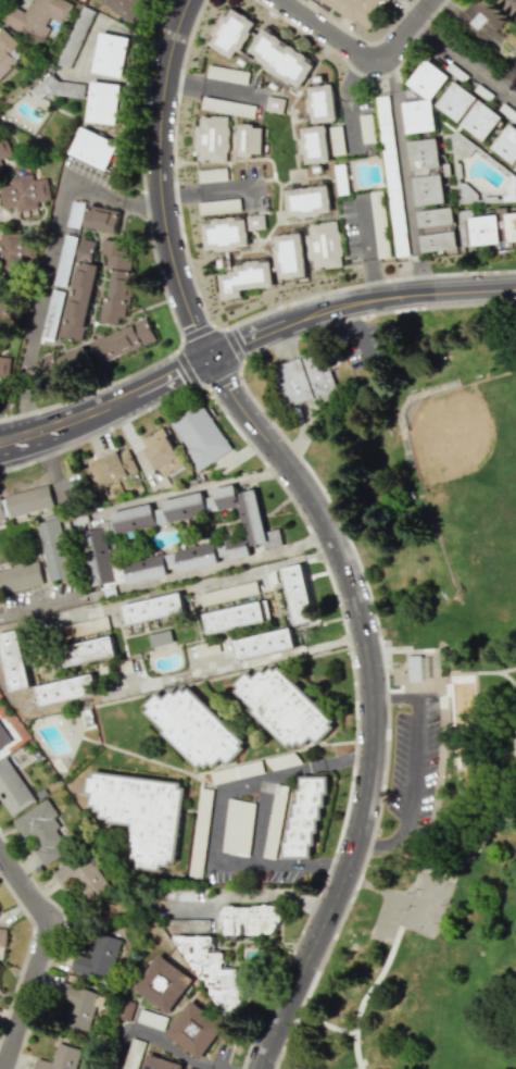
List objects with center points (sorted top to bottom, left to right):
building: (124, 7)
building: (508, 7)
building: (358, 10)
building: (38, 16)
building: (483, 20)
building: (230, 33)
building: (7, 51)
building: (111, 54)
road: (362, 57)
building: (280, 59)
road: (465, 63)
building: (227, 74)
building: (59, 87)
building: (428, 91)
building: (456, 101)
building: (104, 102)
road: (348, 102)
building: (320, 103)
building: (275, 104)
building: (228, 107)
building: (481, 120)
building: (212, 138)
building: (250, 139)
building: (337, 139)
building: (506, 144)
building: (314, 145)
building: (461, 147)
building: (93, 148)
building: (4, 149)
building: (389, 152)
building: (428, 172)
road: (404, 174)
road: (162, 178)
building: (511, 190)
building: (24, 192)
building: (307, 201)
building: (75, 214)
building: (101, 217)
building: (255, 222)
building: (493, 228)
building: (438, 229)
building: (225, 234)
building: (324, 245)
road: (367, 248)
building: (17, 251)
building: (290, 256)
road: (49, 261)
building: (246, 277)
building: (116, 281)
building: (79, 290)
road: (358, 301)
building: (10, 311)
building: (123, 340)
building: (65, 364)
building: (4, 366)
building: (306, 380)
road: (108, 408)
building: (200, 436)
building: (162, 453)
building: (113, 467)
road: (52, 475)
road: (191, 488)
building: (29, 499)
building: (185, 505)
building: (134, 517)
building: (246, 521)
building: (54, 548)
building: (197, 555)
building: (97, 556)
road: (231, 560)
building: (146, 567)
building: (21, 575)
building: (229, 592)
road: (76, 593)
building: (298, 594)
building: (154, 606)
building: (237, 613)
road: (0, 614)
building: (161, 636)
building: (264, 643)
building: (85, 651)
building: (15, 658)
road: (247, 662)
building: (414, 668)
park: (420, 675)
building: (67, 688)
road: (374, 700)
building: (282, 706)
building: (194, 725)
building: (3, 738)
road: (413, 771)
building: (13, 788)
building: (278, 798)
road: (216, 812)
building: (140, 815)
building: (305, 817)
road: (259, 822)
building: (238, 826)
building: (43, 832)
building: (81, 875)
road: (251, 894)
building: (252, 920)
building: (2, 937)
road: (38, 955)
building: (99, 958)
building: (212, 971)
building: (158, 989)
building: (80, 1005)
building: (193, 1031)
road: (156, 1040)
building: (133, 1054)
building: (61, 1058)
building: (160, 1064)

